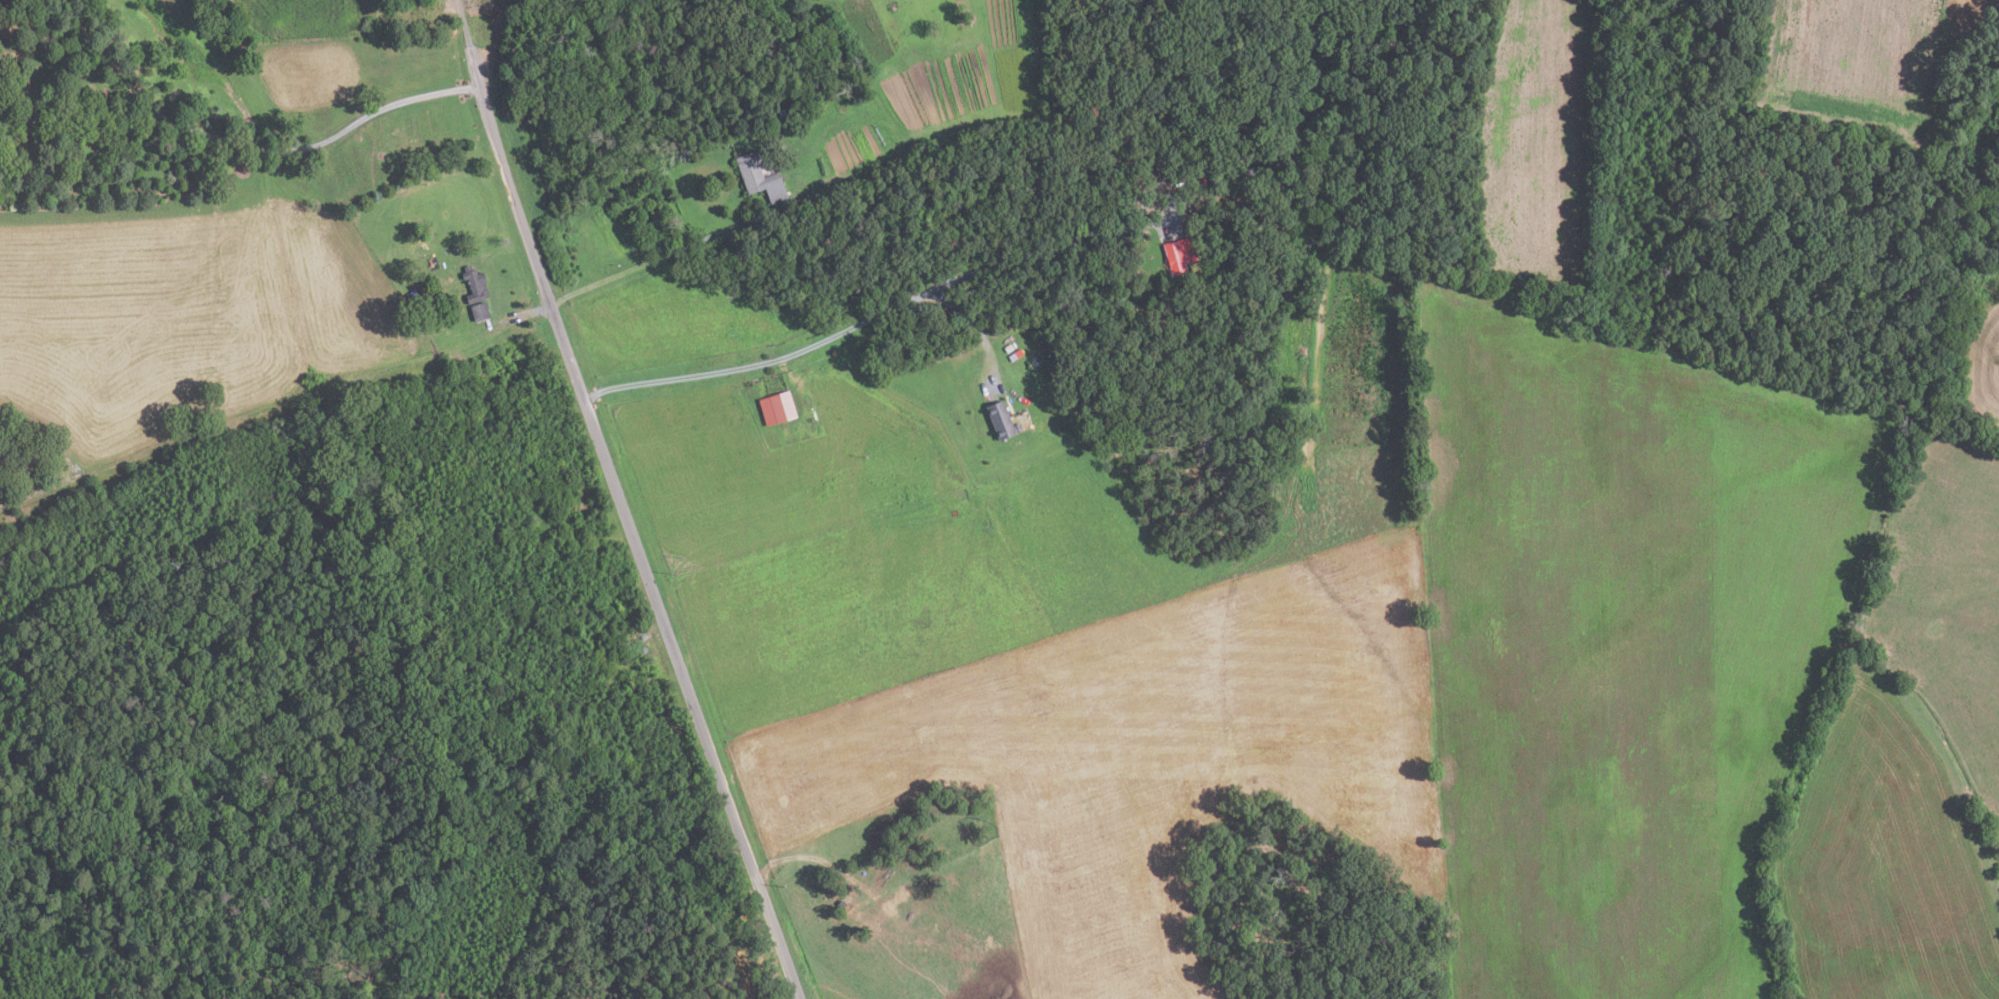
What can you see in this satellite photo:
crop: (822, 2)
road: (497, 31)
road: (468, 43)
crop: (1867, 64)
road: (486, 75)
building: (780, 113)
crop: (1536, 142)
road: (241, 144)
building: (1180, 168)
building: (1154, 169)
building: (760, 177)
building: (1200, 181)
building: (801, 204)
building: (453, 247)
building: (1178, 254)
road: (665, 256)
building: (477, 285)
building: (482, 312)
road: (868, 322)
road: (977, 327)
building: (1007, 347)
crop: (1980, 354)
building: (1013, 356)
building: (775, 408)
road: (275, 412)
building: (998, 421)
road: (634, 544)

